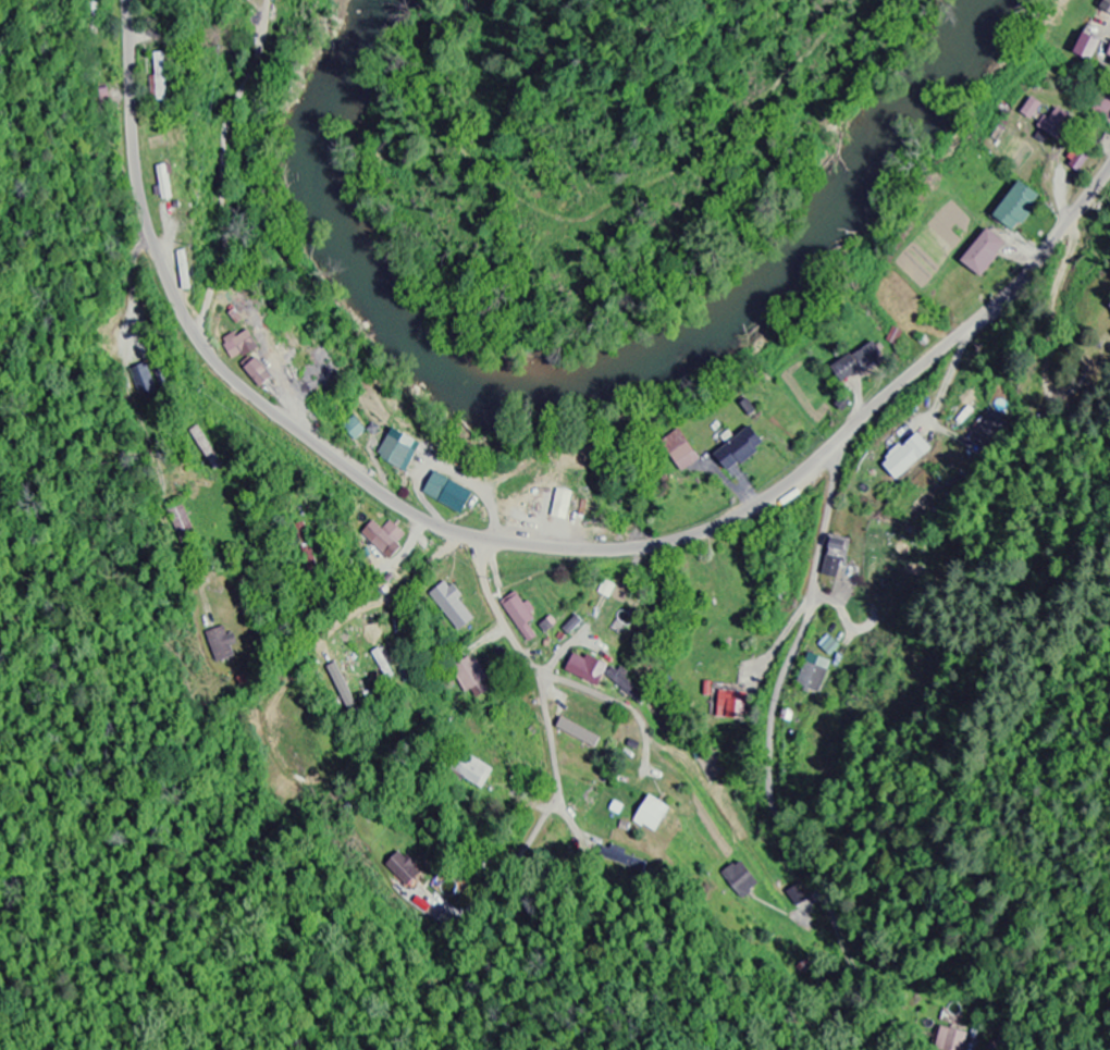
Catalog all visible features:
building: (1106, 7)
building: (1083, 49)
building: (1107, 55)
building: (166, 77)
building: (1036, 109)
building: (1102, 110)
building: (1060, 125)
building: (1081, 161)
building: (166, 184)
building: (1022, 207)
building: (989, 255)
building: (244, 346)
building: (864, 365)
building: (263, 374)
river: (589, 387)
building: (404, 450)
building: (745, 450)
building: (687, 452)
building: (910, 457)
building: (454, 495)
building: (566, 505)
building: (388, 540)
road: (517, 543)
building: (839, 559)
road: (838, 604)
building: (455, 607)
building: (523, 618)
building: (224, 646)
road: (786, 666)
building: (593, 670)
road: (544, 674)
building: (816, 674)
building: (474, 681)
building: (343, 682)
building: (633, 684)
building: (582, 734)
building: (409, 869)
building: (747, 878)
building: (800, 897)
building: (954, 1037)

